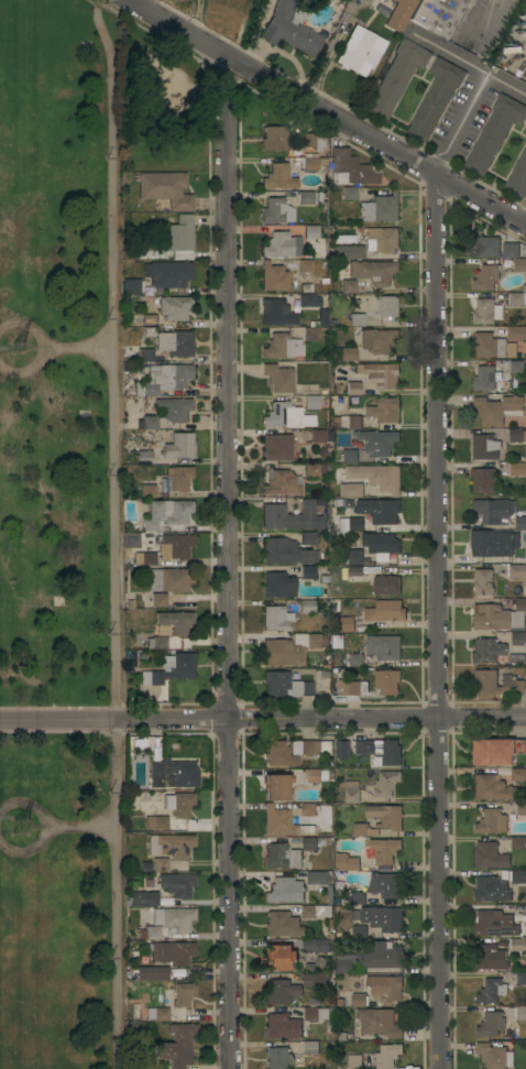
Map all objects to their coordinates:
building: (394, 11)
road: (504, 11)
building: (439, 14)
road: (198, 18)
building: (289, 29)
building: (469, 44)
building: (360, 51)
road: (467, 63)
building: (396, 76)
building: (435, 97)
road: (328, 111)
road: (462, 124)
building: (525, 126)
building: (494, 132)
building: (275, 138)
building: (313, 140)
building: (309, 162)
building: (350, 168)
building: (518, 175)
building: (281, 176)
building: (165, 189)
building: (350, 193)
building: (306, 197)
building: (381, 207)
building: (277, 210)
road: (524, 217)
building: (311, 231)
building: (180, 237)
building: (383, 239)
building: (278, 244)
building: (484, 247)
building: (351, 251)
building: (515, 254)
building: (305, 265)
building: (374, 271)
building: (179, 273)
building: (273, 276)
building: (486, 276)
building: (130, 286)
building: (349, 286)
building: (152, 287)
building: (311, 298)
building: (517, 298)
building: (172, 306)
building: (388, 307)
building: (485, 310)
building: (276, 312)
building: (357, 319)
building: (144, 320)
road: (26, 328)
building: (311, 332)
building: (517, 332)
building: (377, 340)
building: (175, 342)
building: (282, 346)
building: (489, 346)
power tower: (24, 348)
road: (80, 348)
building: (509, 349)
building: (344, 353)
building: (516, 366)
road: (25, 368)
building: (381, 373)
building: (162, 377)
building: (278, 378)
building: (485, 378)
building: (353, 388)
building: (311, 402)
building: (496, 408)
building: (384, 410)
building: (167, 414)
building: (287, 416)
building: (350, 421)
building: (515, 434)
building: (317, 436)
building: (377, 441)
building: (178, 446)
building: (484, 446)
building: (277, 447)
building: (350, 455)
building: (145, 457)
building: (518, 469)
building: (311, 470)
building: (376, 476)
building: (179, 478)
building: (483, 480)
building: (283, 483)
building: (351, 490)
building: (147, 491)
building: (379, 510)
building: (171, 511)
building: (494, 511)
building: (292, 516)
building: (350, 523)
building: (150, 524)
building: (307, 538)
park: (61, 539)
building: (497, 539)
road: (114, 541)
building: (176, 546)
building: (387, 550)
building: (284, 552)
building: (139, 558)
road: (230, 561)
building: (517, 571)
building: (307, 572)
building: (355, 575)
building: (171, 579)
building: (482, 581)
building: (386, 583)
building: (278, 585)
building: (154, 600)
building: (307, 607)
building: (385, 610)
building: (498, 615)
building: (276, 618)
building: (176, 621)
road: (442, 621)
building: (349, 624)
building: (518, 639)
building: (317, 640)
building: (337, 641)
building: (157, 643)
building: (384, 647)
building: (487, 650)
building: (282, 653)
building: (352, 659)
building: (171, 668)
building: (387, 681)
building: (496, 684)
building: (286, 685)
building: (351, 687)
road: (263, 719)
building: (342, 750)
building: (294, 751)
building: (380, 751)
building: (496, 751)
building: (169, 772)
building: (518, 774)
building: (313, 775)
building: (386, 783)
building: (275, 787)
building: (492, 787)
building: (351, 792)
building: (179, 803)
road: (25, 805)
building: (522, 805)
building: (308, 809)
building: (385, 816)
building: (491, 821)
building: (156, 822)
building: (283, 822)
road: (81, 826)
power tower: (26, 828)
building: (363, 830)
building: (517, 842)
building: (309, 843)
building: (171, 844)
road: (28, 848)
building: (382, 850)
building: (282, 855)
building: (489, 855)
building: (346, 862)
building: (161, 864)
building: (517, 875)
building: (318, 877)
building: (177, 884)
building: (385, 885)
building: (491, 888)
building: (285, 891)
building: (358, 897)
building: (144, 898)
building: (308, 912)
building: (174, 918)
building: (382, 918)
building: (494, 923)
building: (283, 924)
building: (359, 931)
building: (152, 932)
building: (517, 943)
building: (316, 946)
building: (173, 952)
building: (383, 956)
building: (280, 957)
building: (491, 957)
building: (344, 966)
building: (153, 973)
building: (520, 979)
building: (316, 980)
building: (385, 986)
building: (491, 991)
building: (282, 992)
building: (183, 994)
building: (359, 1000)
building: (520, 1012)
building: (161, 1014)
building: (316, 1014)
building: (379, 1022)
building: (491, 1024)
building: (283, 1026)
building: (177, 1046)
building: (311, 1052)
building: (387, 1056)
building: (494, 1056)
building: (278, 1058)
building: (353, 1061)

